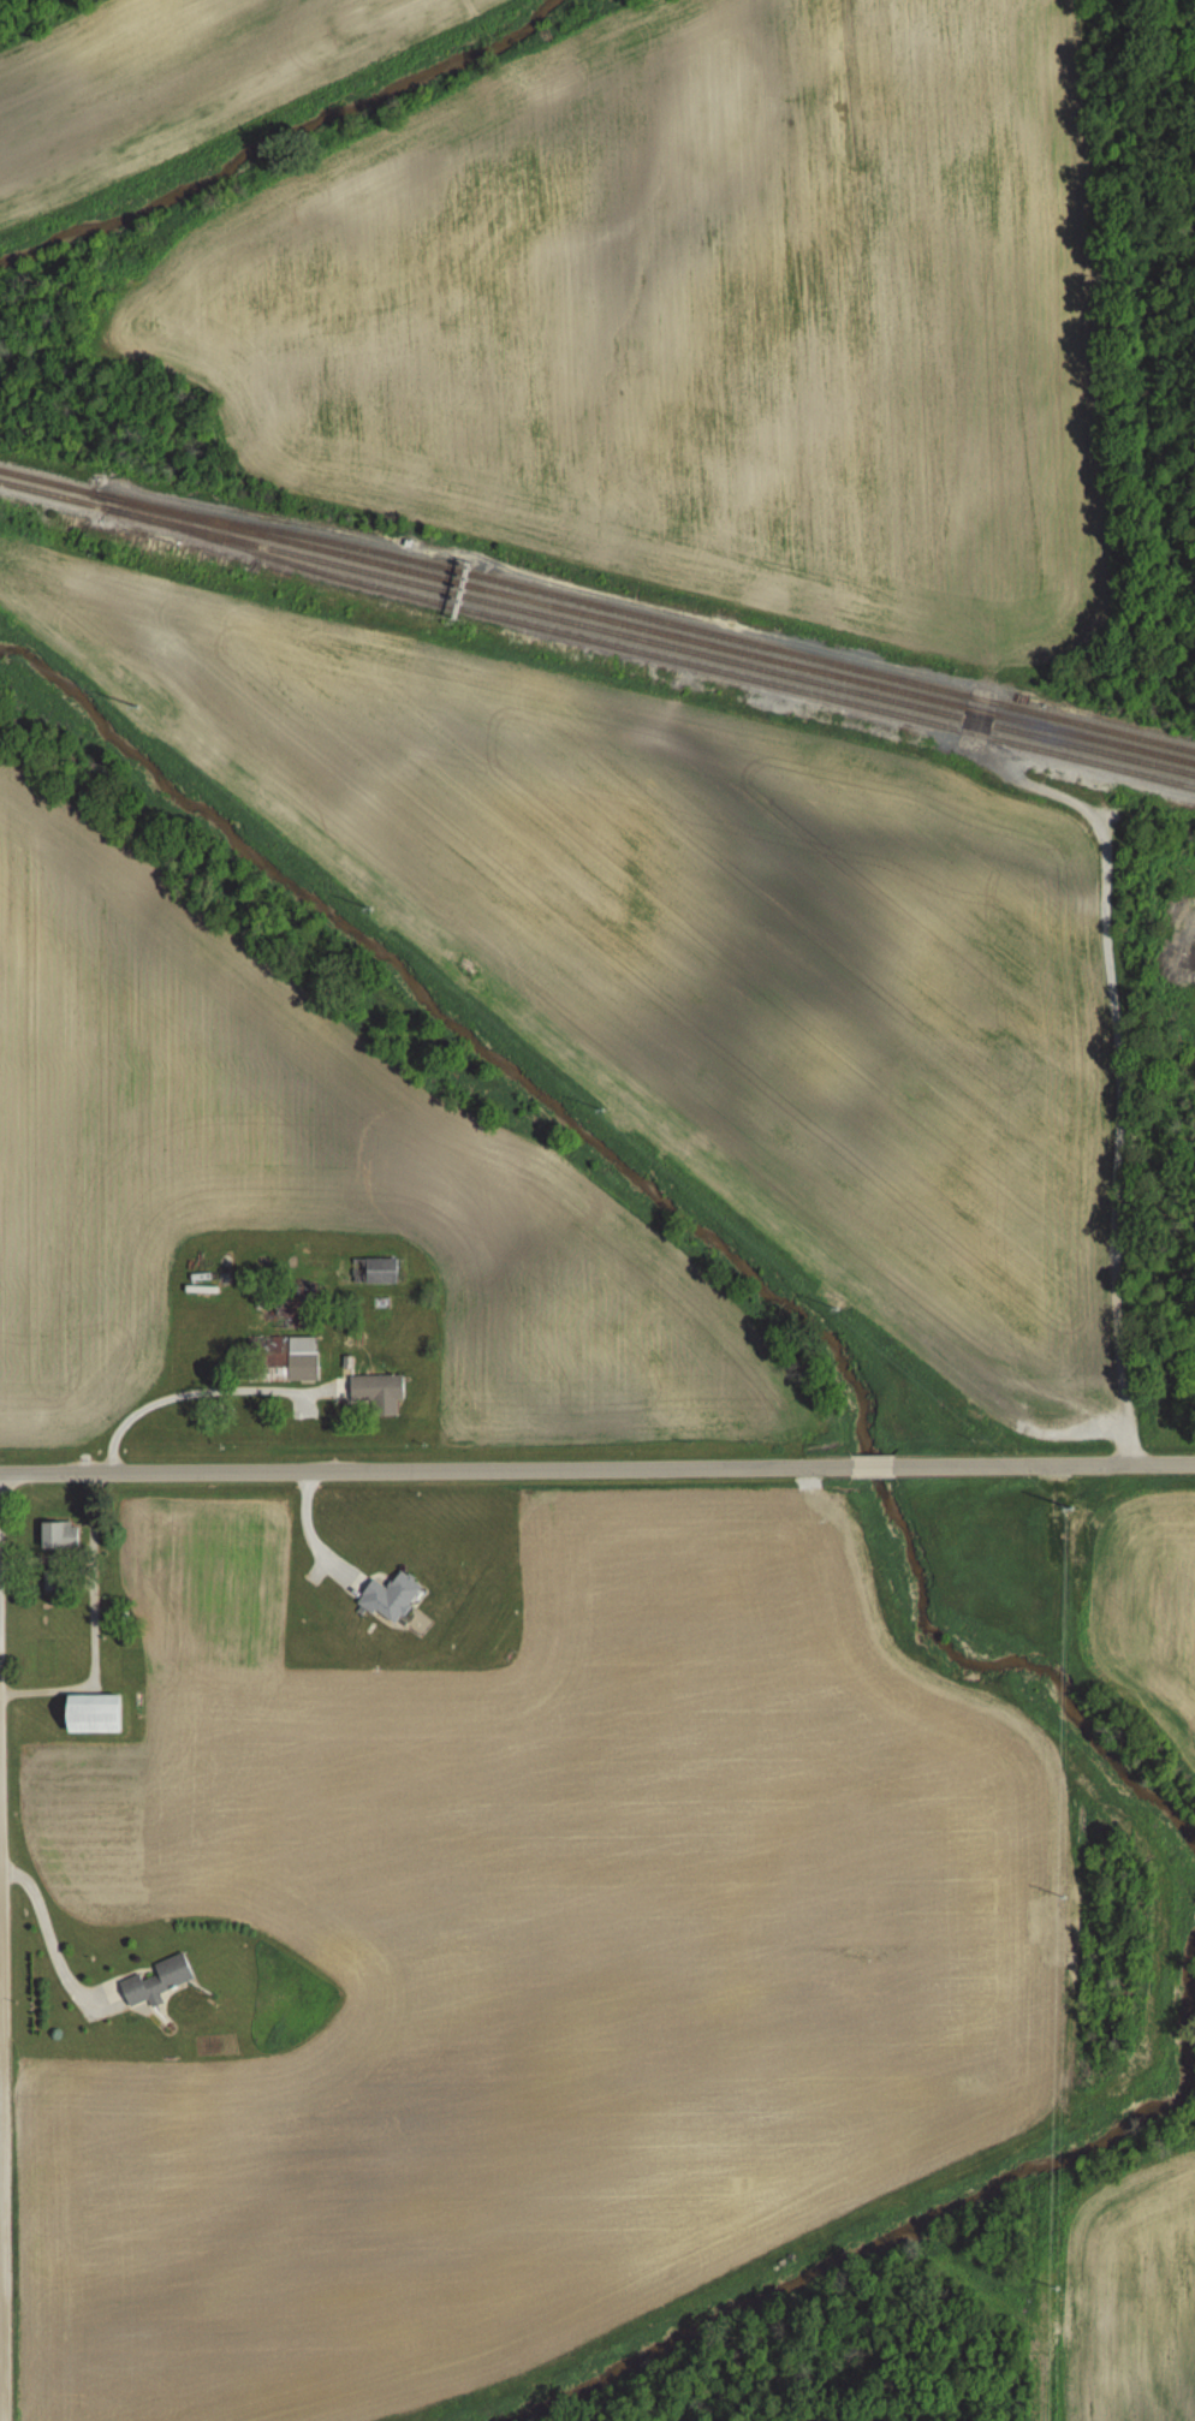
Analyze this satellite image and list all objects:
railway: (48, 482)
railway: (54, 495)
railway: (647, 615)
railway: (646, 629)
railway: (652, 642)
railway: (650, 654)
building: (368, 1271)
building: (285, 1314)
building: (285, 1356)
road: (188, 1390)
building: (376, 1393)
road: (596, 1469)
building: (58, 1535)
road: (94, 1629)
building: (130, 1664)
building: (90, 1714)
road: (47, 1932)
building: (154, 1980)
road: (0, 2343)

